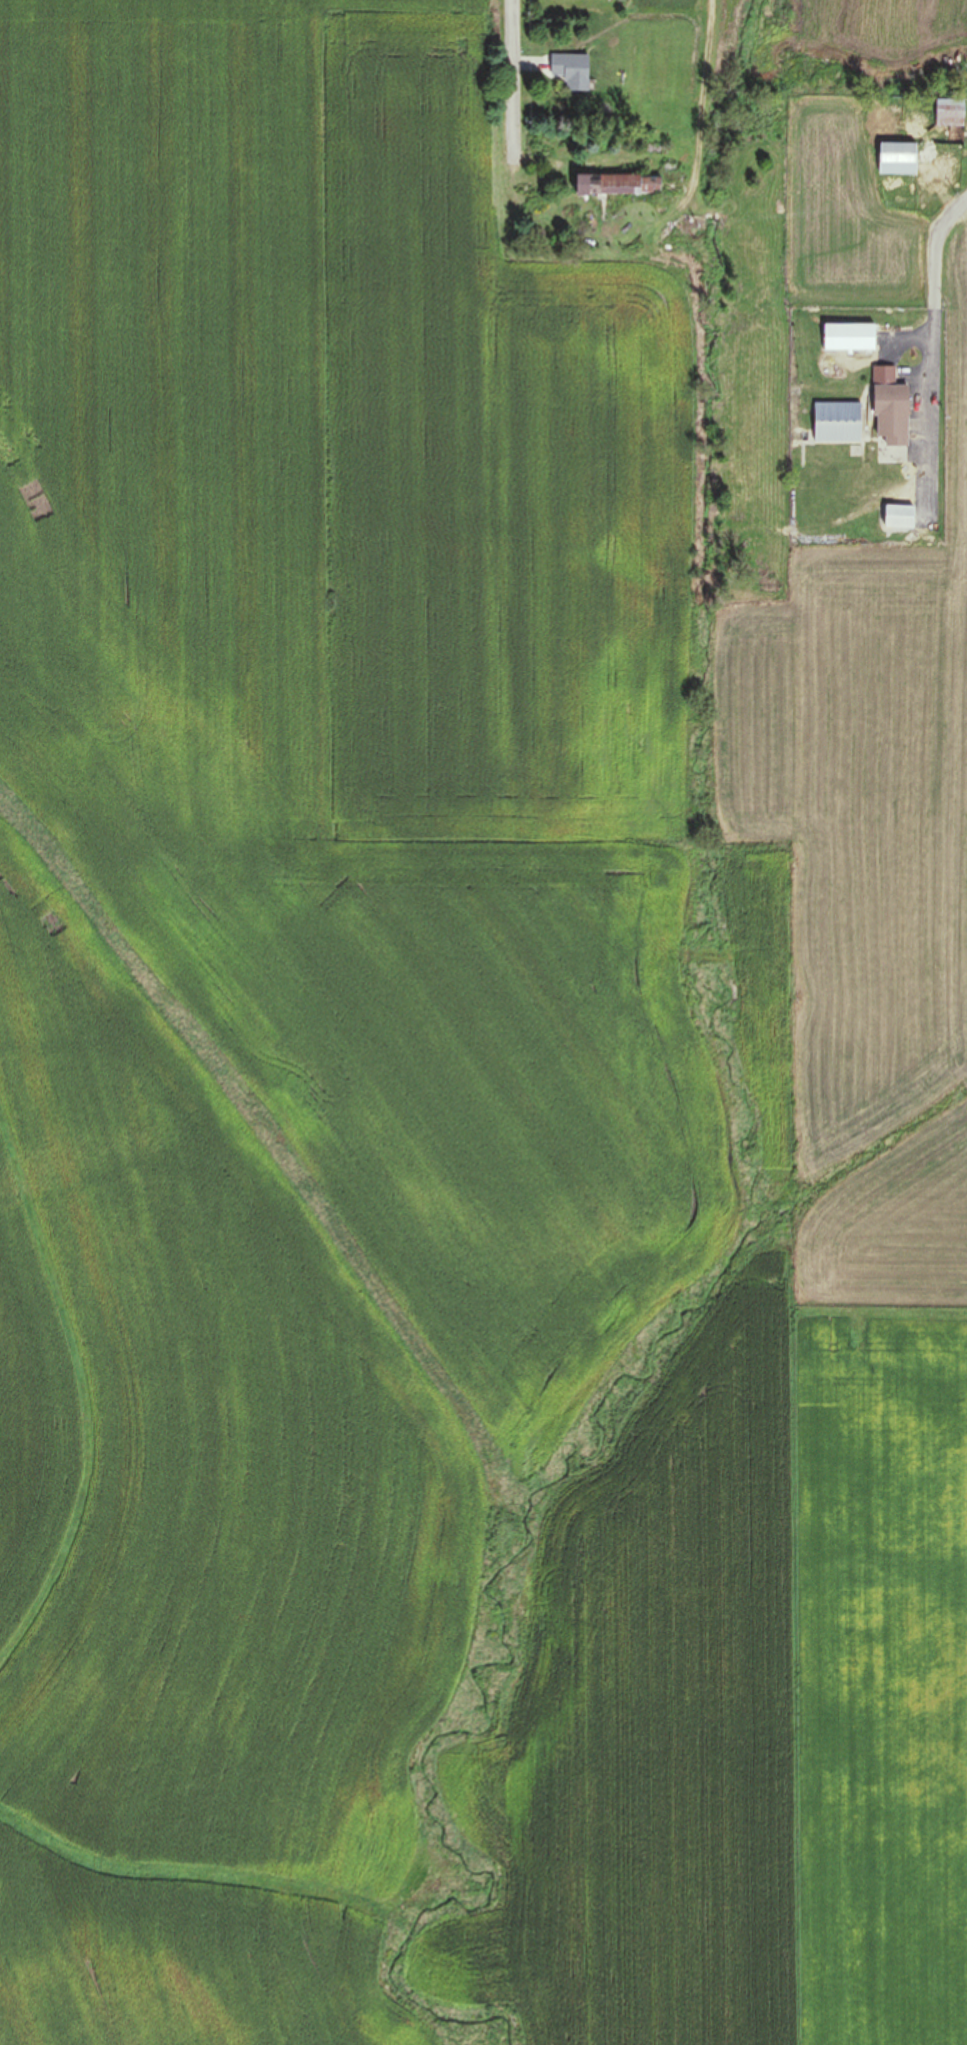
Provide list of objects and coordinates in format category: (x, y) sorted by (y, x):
road: (514, 56)
building: (570, 71)
building: (949, 112)
building: (896, 158)
building: (608, 185)
road: (939, 255)
building: (847, 338)
building: (888, 409)
building: (836, 423)
building: (897, 518)

